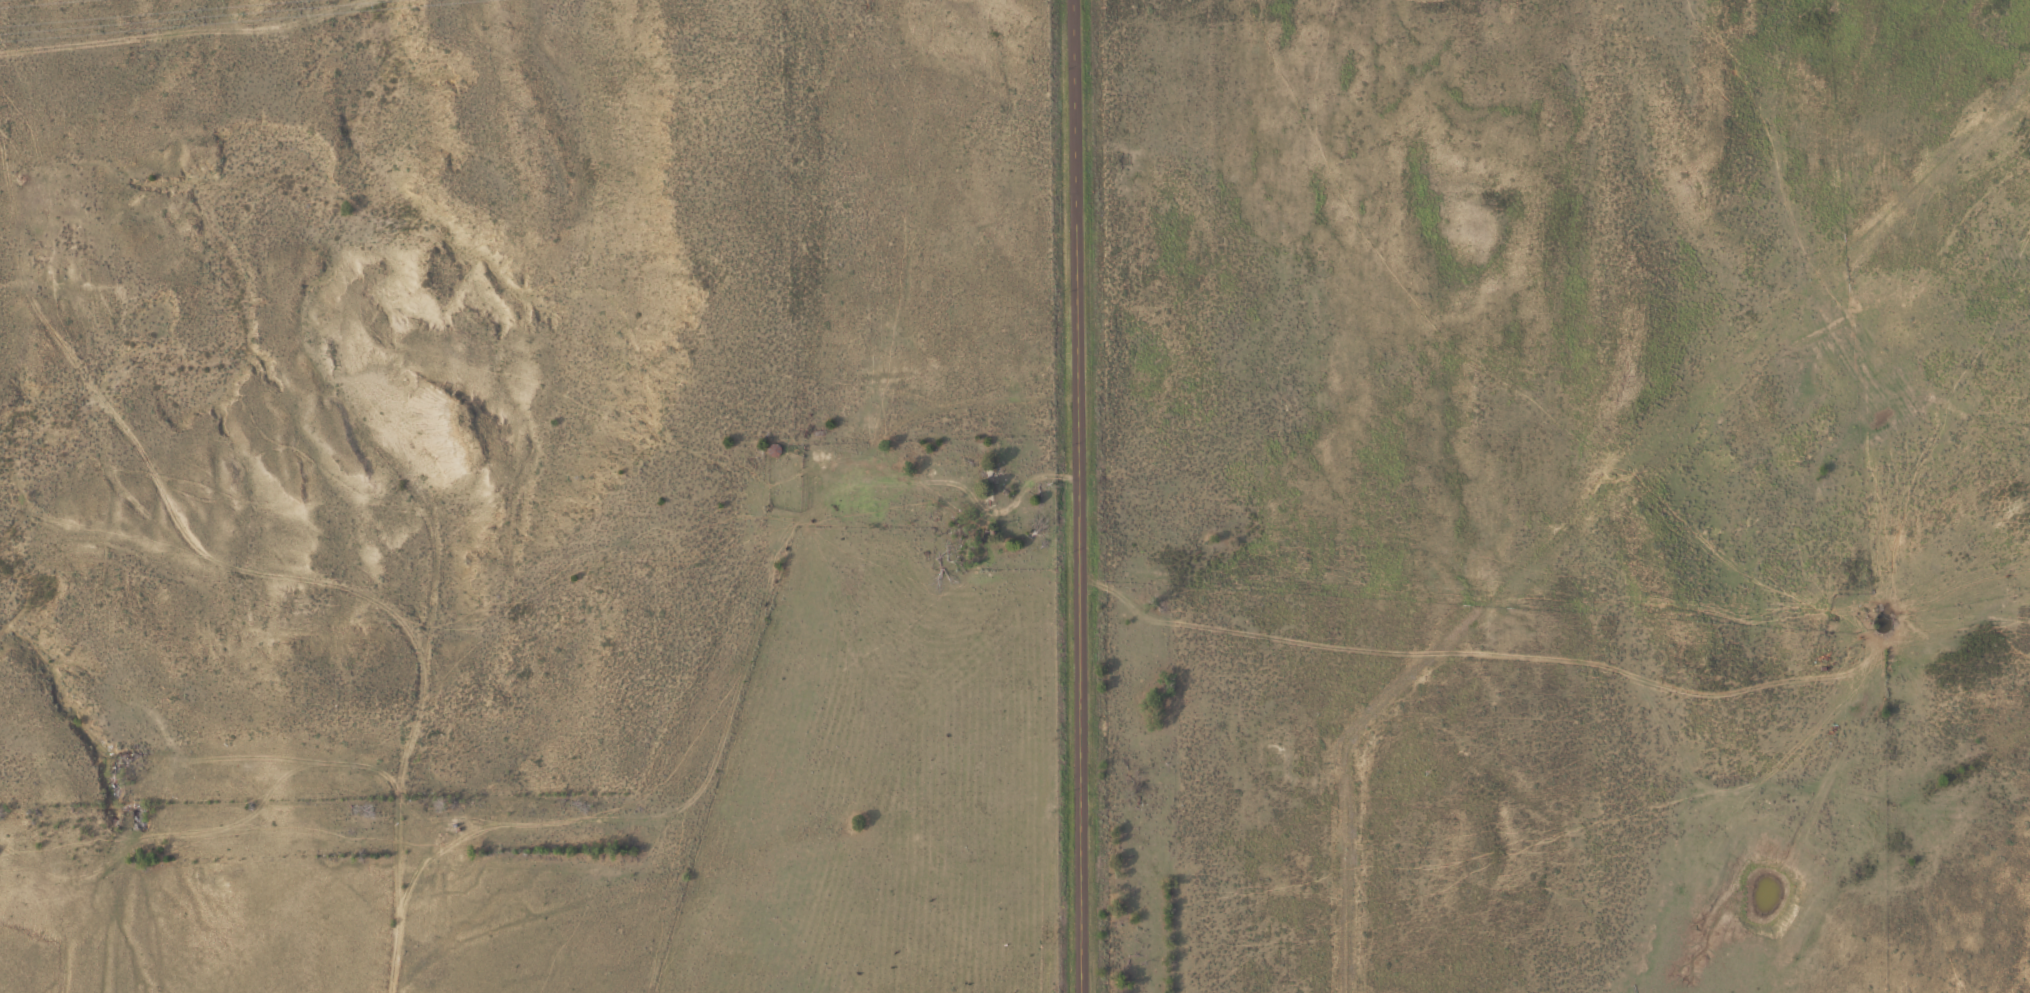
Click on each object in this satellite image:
road: (1076, 496)

